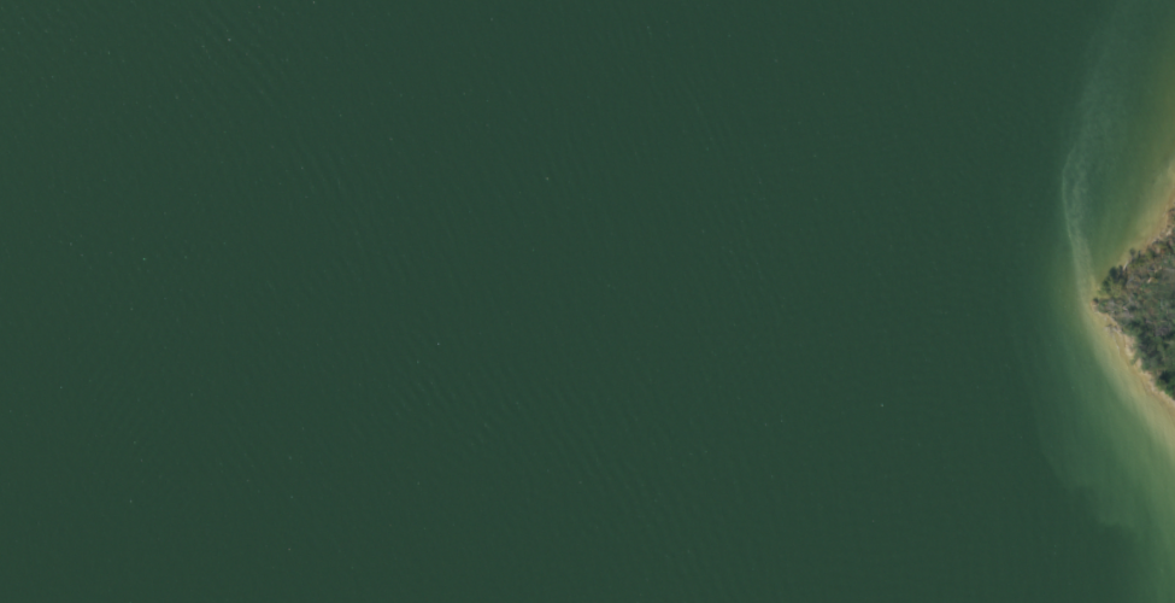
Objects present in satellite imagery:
park: (1145, 298)

